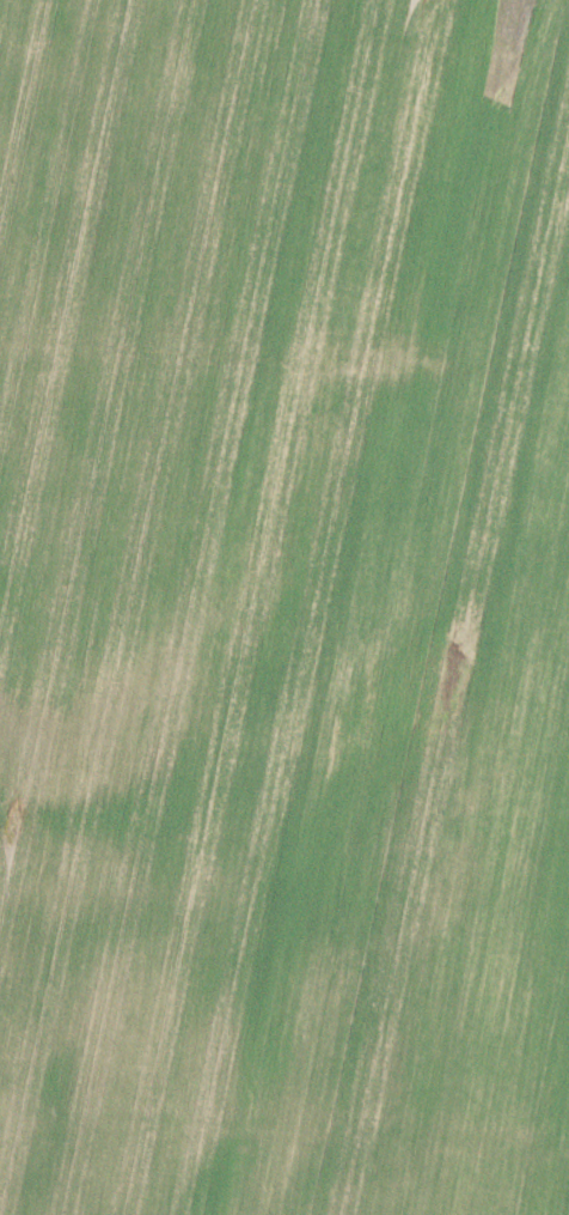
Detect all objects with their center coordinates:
crop: (284, 607)

